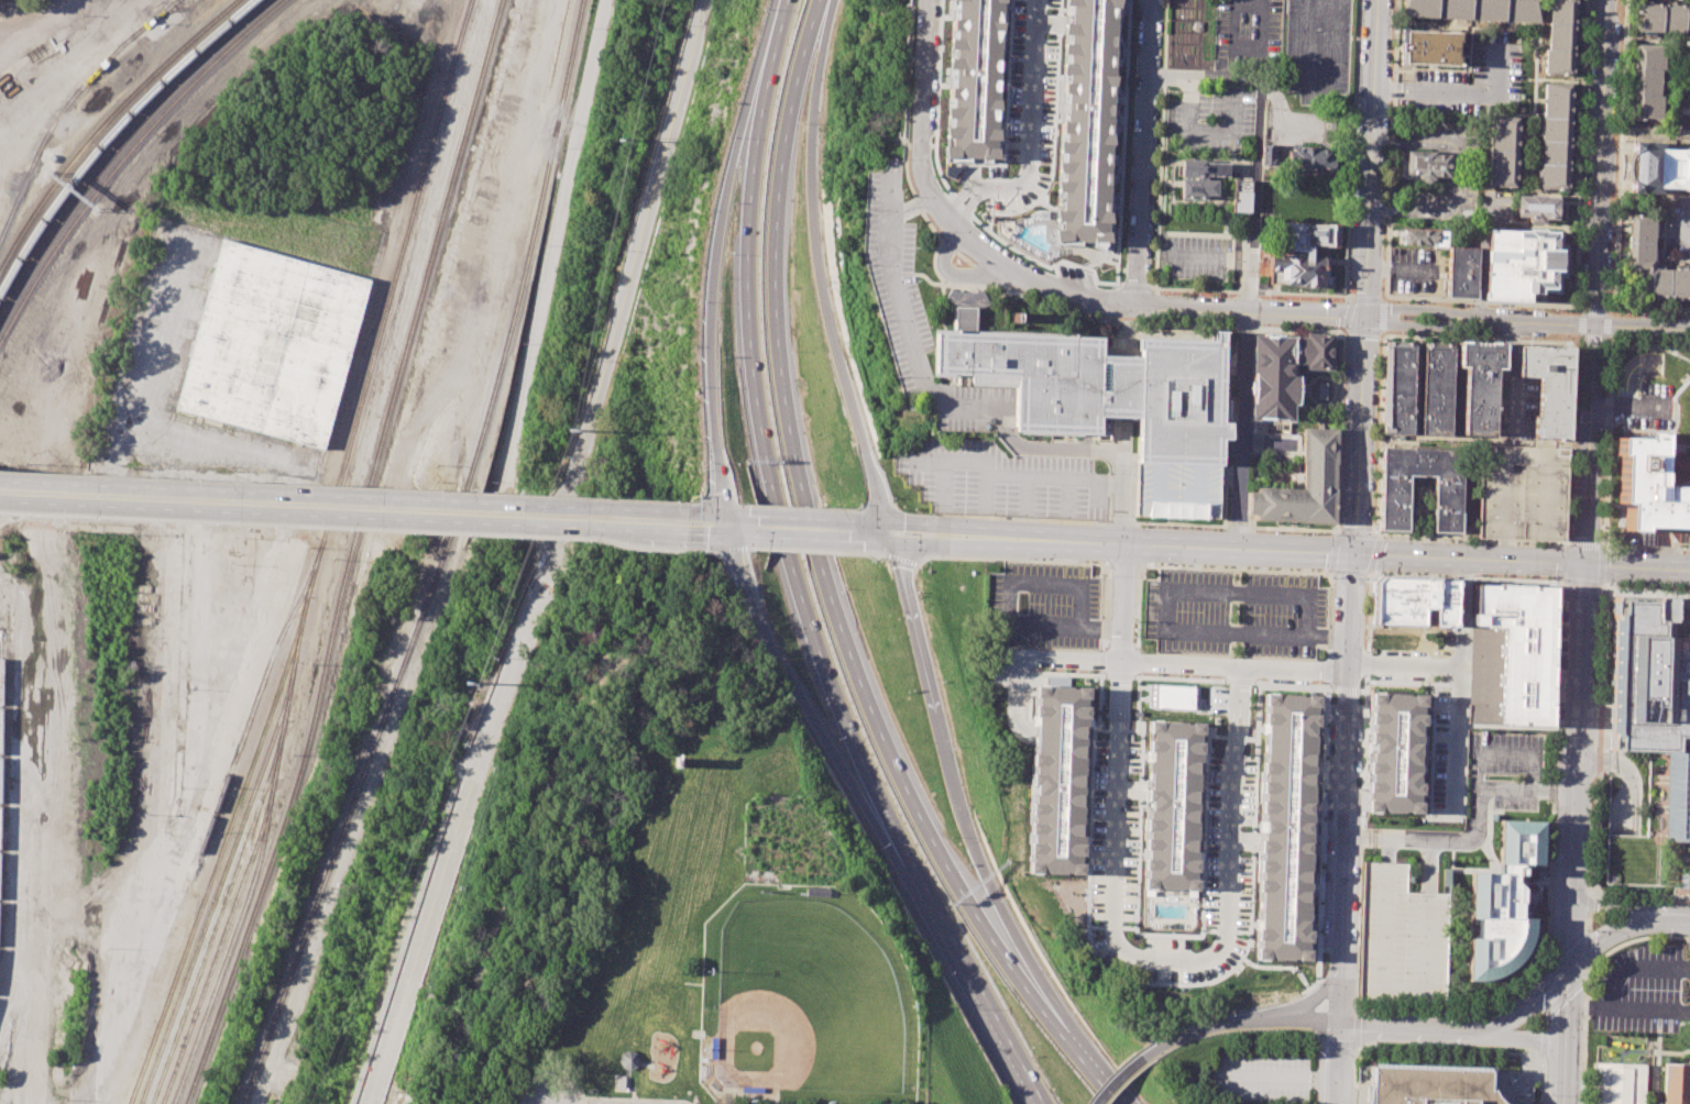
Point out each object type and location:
road: (1249, 0)
road: (1305, 0)
road: (1317, 0)
building: (1418, 9)
building: (1490, 10)
building: (1662, 18)
building: (1197, 25)
parking lot: (1247, 35)
building: (1560, 37)
road: (1244, 46)
building: (1430, 47)
parking lot: (1316, 48)
building: (973, 79)
parking lot: (1464, 81)
building: (1648, 81)
park: (874, 82)
road: (1328, 85)
road: (1458, 91)
street lamp: (1157, 92)
road: (1007, 93)
street lamp: (909, 95)
building: (1557, 100)
road: (904, 102)
railway: (67, 103)
road: (1029, 109)
railway: (96, 111)
road: (919, 117)
building: (1085, 120)
street lamp: (1156, 120)
railway: (105, 122)
parking lot: (1210, 124)
building: (1556, 129)
road: (1200, 131)
railway: (111, 132)
street lamp: (1129, 132)
building: (1503, 133)
road: (1053, 136)
power tower: (616, 139)
road: (1255, 139)
road: (1121, 145)
street lamp: (1155, 145)
railway: (118, 146)
road: (1351, 147)
street lamp: (907, 150)
road: (1142, 152)
road: (1159, 152)
building: (1555, 152)
road: (1621, 153)
building: (1267, 154)
railway: (124, 155)
street lamp: (890, 157)
building: (1310, 157)
road: (1371, 157)
building: (1426, 164)
railway: (136, 165)
street lamp: (991, 165)
building: (1659, 167)
building: (1502, 168)
street lamp: (1154, 170)
building: (1200, 176)
building: (1554, 176)
road: (961, 194)
road: (951, 195)
building: (1241, 196)
street lamp: (1153, 201)
road: (968, 205)
road: (911, 206)
street lamp: (1171, 206)
street lamp: (1221, 207)
building: (1539, 208)
street lamp: (1007, 211)
street lamp: (859, 213)
road: (1688, 223)
parking lot: (1679, 225)
road: (1598, 227)
street lamp: (1152, 230)
street lamp: (1185, 230)
street lamp: (936, 231)
road: (1032, 233)
building: (1309, 235)
road: (746, 238)
building: (1423, 238)
building: (1640, 242)
road: (1109, 243)
road: (556, 246)
road: (1384, 246)
road: (711, 252)
road: (1088, 252)
parking lot: (1197, 255)
street lamp: (1152, 257)
road: (637, 258)
road: (1110, 263)
building: (1523, 263)
street lamp: (860, 265)
road: (1083, 266)
building: (1301, 271)
road: (952, 272)
parking lot: (1417, 272)
building: (1461, 273)
parking lot: (895, 276)
road: (925, 277)
street lamp: (915, 280)
road: (1036, 281)
street lamp: (1150, 284)
road: (1134, 286)
road: (1011, 287)
street lamp: (1170, 292)
road: (1251, 292)
street lamp: (1197, 294)
street lamp: (1226, 295)
street lamp: (1269, 297)
street lamp: (1297, 298)
road: (1383, 298)
street lamp: (1329, 299)
road: (1367, 299)
road: (957, 300)
street lamp: (1045, 302)
road: (1634, 307)
road: (1250, 310)
road: (1424, 310)
road: (1349, 313)
road: (1381, 314)
street lamp: (877, 321)
street lamp: (1177, 322)
road: (1173, 323)
road: (1538, 323)
road: (1424, 324)
street lamp: (928, 328)
road: (1244, 328)
road: (1642, 328)
street lamp: (1331, 329)
road: (1362, 329)
road: (1382, 332)
road: (1383, 334)
building: (1187, 335)
building: (272, 343)
road: (1591, 343)
road: (1650, 344)
street lamp: (1345, 351)
road: (1677, 353)
building: (1283, 371)
street lamp: (893, 377)
building: (1480, 384)
road: (933, 385)
building: (1548, 386)
railway: (365, 387)
building: (1108, 387)
building: (1398, 387)
building: (1436, 388)
road: (1626, 388)
road: (1243, 404)
road: (1645, 405)
parking lot: (973, 407)
parking lot: (1653, 407)
road: (1673, 416)
road: (1339, 429)
road: (1636, 429)
power tower: (564, 431)
street lamp: (932, 431)
street lamp: (990, 433)
road: (1359, 433)
street lamp: (1341, 434)
road: (1606, 443)
street lamp: (902, 452)
flagpole: (1689, 452)
street lamp: (1106, 472)
road: (998, 476)
parking lot: (1003, 482)
road: (1119, 484)
building: (1303, 485)
road: (1683, 485)
road: (940, 486)
building: (1648, 488)
building: (1523, 493)
parking garage: (1523, 493)
road: (292, 494)
road: (981, 494)
road: (198, 495)
road: (1581, 496)
road: (1023, 497)
road: (1593, 497)
road: (1066, 499)
road: (282, 503)
street lamp: (929, 503)
building: (1447, 503)
street lamp: (673, 504)
road: (1223, 505)
road: (1239, 505)
road: (492, 507)
street lamp: (1339, 507)
street lamp: (804, 508)
road: (636, 509)
street lamp: (29, 511)
road: (721, 512)
street lamp: (931, 512)
traffic signals: (723, 514)
street lamp: (998, 514)
street lamp: (72, 516)
street lamp: (107, 516)
road: (341, 516)
street lamp: (1042, 516)
street lamp: (165, 518)
road: (803, 518)
road: (1023, 518)
street lamp: (226, 520)
street lamp: (285, 521)
traffic signals: (887, 521)
road: (337, 522)
road: (914, 522)
road: (1118, 522)
road: (724, 523)
street lamp: (1094, 523)
road: (1177, 525)
street lamp: (331, 526)
street lamp: (361, 526)
road: (782, 527)
street lamp: (1154, 527)
street lamp: (1177, 528)
street lamp: (1200, 528)
street lamp: (424, 529)
road: (1237, 529)
road: (1292, 529)
road: (890, 531)
street lamp: (1274, 531)
street lamp: (478, 532)
road: (704, 533)
street lamp: (1310, 533)
street lamp: (528, 534)
traffic signals: (725, 534)
road: (742, 534)
road: (1335, 534)
road: (1372, 534)
road: (1648, 537)
street lamp: (571, 538)
road: (809, 538)
street lamp: (594, 539)
street lamp: (1569, 539)
road: (876, 541)
traffic signals: (893, 542)
road: (934, 543)
road: (1163, 544)
road: (1567, 544)
road: (745, 547)
road: (1646, 547)
road: (1626, 548)
road: (811, 549)
road: (1669, 549)
street lamp: (650, 550)
road: (702, 551)
street lamp: (678, 552)
road: (1583, 552)
street lamp: (749, 553)
road: (873, 553)
traffic signals: (1353, 553)
road: (1372, 553)
railway: (352, 554)
road: (1009, 556)
street lamp: (1023, 557)
street lamp: (879, 559)
road: (900, 559)
road: (1468, 559)
railway: (440, 560)
road: (1122, 563)
street lamp: (1165, 563)
traffic signals: (1583, 564)
road: (1237, 566)
road: (1636, 566)
street lamp: (1326, 570)
road: (1351, 573)
road: (1426, 576)
street lamp: (1475, 577)
street lamp: (1110, 578)
street lamp: (1365, 579)
street lamp: (1607, 585)
street lamp: (1615, 586)
street lamp: (1642, 586)
street lamp: (1671, 588)
street lamp: (846, 589)
street lamp: (1559, 592)
road: (1258, 594)
street lamp: (919, 596)
street lamp: (1598, 597)
road: (1676, 598)
building: (1413, 599)
road: (1102, 603)
street lamp: (1043, 604)
parking lot: (1043, 605)
road: (1078, 605)
road: (1138, 606)
road: (1166, 610)
parking lot: (1236, 612)
road: (1329, 612)
road: (1458, 615)
road: (1009, 625)
street lamp: (1596, 626)
road: (915, 631)
road: (1258, 634)
road: (1119, 643)
road: (1101, 644)
building: (1519, 648)
street lamp: (1596, 654)
road: (1025, 659)
road: (1100, 661)
road: (1367, 662)
road: (1292, 667)
road: (1041, 672)
road: (1327, 672)
road: (1119, 676)
road: (1179, 677)
building: (1648, 678)
road: (1240, 681)
power tower: (467, 682)
street lamp: (1595, 685)
road: (1292, 687)
road: (1346, 688)
road: (1457, 689)
building: (1217, 693)
street lamp: (1025, 697)
building: (1174, 698)
railway: (256, 702)
street lamp: (1105, 707)
railway: (1, 720)
road: (1578, 725)
road: (1117, 735)
street lamp: (956, 746)
road: (1594, 750)
building: (1394, 755)
road: (1595, 755)
railway: (272, 768)
road: (1626, 776)
road: (848, 777)
building: (1058, 781)
road: (1527, 787)
parking lot: (1513, 795)
street lamp: (1087, 796)
building: (1678, 796)
road: (881, 798)
street lamp: (1591, 798)
building: (1172, 806)
road: (1615, 806)
road: (1635, 807)
road: (461, 809)
road: (1230, 813)
road: (1321, 817)
railway: (1659, 821)
building: (1286, 828)
road: (1346, 828)
street lamp: (1590, 828)
road: (1593, 831)
street lamp: (952, 837)
road: (1438, 840)
road: (1359, 841)
railway: (230, 858)
street lamp: (1589, 858)
street lamp: (1551, 860)
park: (656, 868)
road: (988, 875)
railway: (240, 888)
road: (1549, 893)
street lamp: (1602, 897)
street lamp: (1007, 898)
street lamp: (1631, 898)
street lamp: (1659, 901)
street lamp: (1688, 902)
building: (1503, 903)
road: (1590, 906)
road: (1614, 906)
road: (1590, 918)
road: (1673, 924)
road: (1573, 927)
road: (1110, 928)
road: (1162, 934)
road: (1610, 936)
building: (1404, 937)
parking garage: (1404, 937)
railway: (189, 938)
railway: (233, 939)
road: (1633, 939)
railway: (205, 958)
road: (1589, 967)
road: (1547, 968)
traffic signals: (1572, 968)
street lamp: (1585, 974)
road: (1617, 974)
road: (1164, 982)
street lamp: (1310, 987)
parking lot: (1639, 991)
road: (1403, 992)
park: (804, 1002)
road: (1304, 1002)
street lamp: (1074, 1008)
road: (1649, 1008)
street lamp: (1447, 1015)
road: (1546, 1016)
road: (1251, 1023)
road: (1464, 1027)
street lamp: (1309, 1030)
road: (1568, 1036)
road: (1584, 1037)
road: (1525, 1038)
road: (1419, 1049)
street lamp: (1317, 1050)
road: (1667, 1051)
road: (1317, 1056)
road: (1655, 1056)
road: (1019, 1057)
building: (627, 1060)
road: (1541, 1064)
road: (1130, 1071)
road: (546, 1075)
road: (1280, 1077)
parking lot: (1262, 1078)
road: (626, 1079)
building: (1618, 1083)
building: (1675, 1083)
building: (1428, 1084)
road: (628, 1089)
road: (635, 1099)

